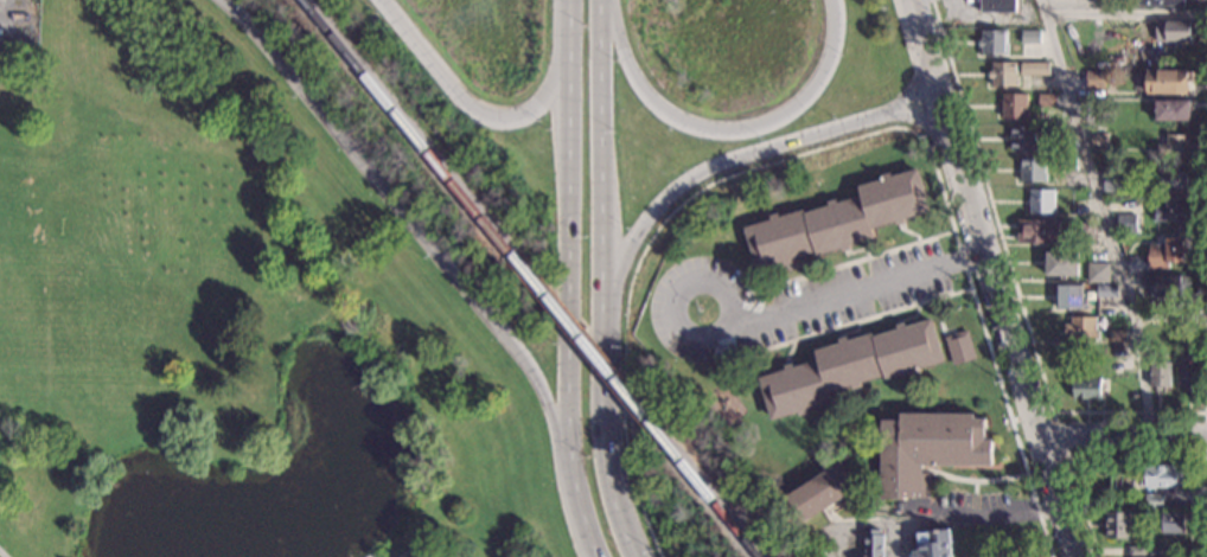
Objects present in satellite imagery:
building: (1157, 4)
building: (998, 6)
road: (566, 17)
building: (1174, 31)
road: (917, 38)
building: (994, 41)
building: (1029, 41)
building: (1035, 69)
building: (1003, 73)
building: (1096, 79)
building: (1168, 81)
road: (906, 97)
building: (1047, 100)
building: (1014, 105)
building: (1173, 109)
road: (475, 111)
road: (914, 117)
railway: (413, 128)
road: (727, 130)
building: (1058, 132)
building: (1023, 136)
building: (1099, 139)
building: (1174, 145)
road: (829, 146)
building: (1067, 164)
road: (603, 165)
building: (1033, 169)
road: (701, 175)
building: (1112, 179)
building: (1173, 180)
building: (1041, 200)
building: (1171, 210)
road: (1101, 216)
building: (837, 220)
building: (1126, 224)
road: (419, 231)
building: (1039, 231)
building: (1084, 233)
building: (1167, 252)
road: (861, 262)
building: (1061, 263)
building: (1136, 265)
building: (1099, 273)
building: (754, 284)
building: (1166, 286)
road: (842, 292)
building: (1106, 292)
building: (1069, 296)
road: (569, 297)
road: (1002, 316)
building: (1187, 316)
road: (1026, 318)
park: (228, 320)
road: (855, 325)
building: (1081, 328)
building: (1117, 335)
building: (960, 346)
railway: (592, 348)
building: (850, 366)
building: (1160, 373)
building: (1188, 374)
building: (1086, 388)
road: (1054, 415)
road: (1124, 435)
road: (1206, 436)
road: (609, 446)
building: (928, 449)
road: (1086, 459)
building: (1163, 475)
building: (818, 493)
railway: (714, 498)
building: (1154, 501)
road: (995, 512)
building: (1174, 523)
building: (1117, 525)
road: (868, 526)
building: (874, 543)
building: (934, 544)
building: (1136, 551)
building: (1156, 551)
road: (4, 552)

